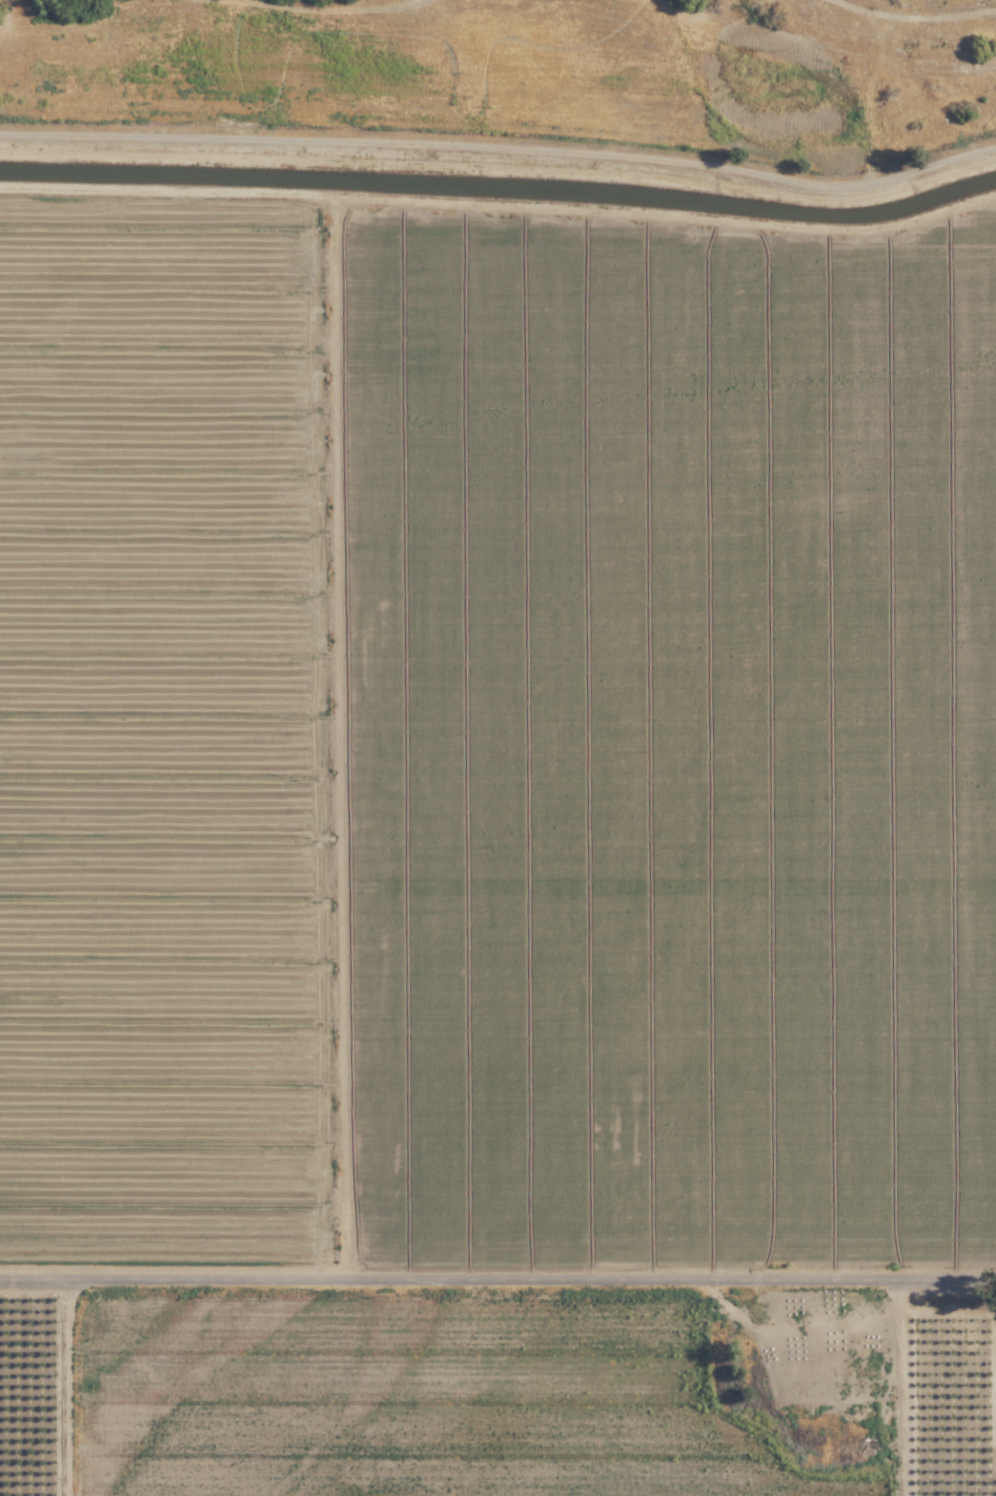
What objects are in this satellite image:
crop: (495, 850)
road: (498, 1279)
road: (82, 1387)

